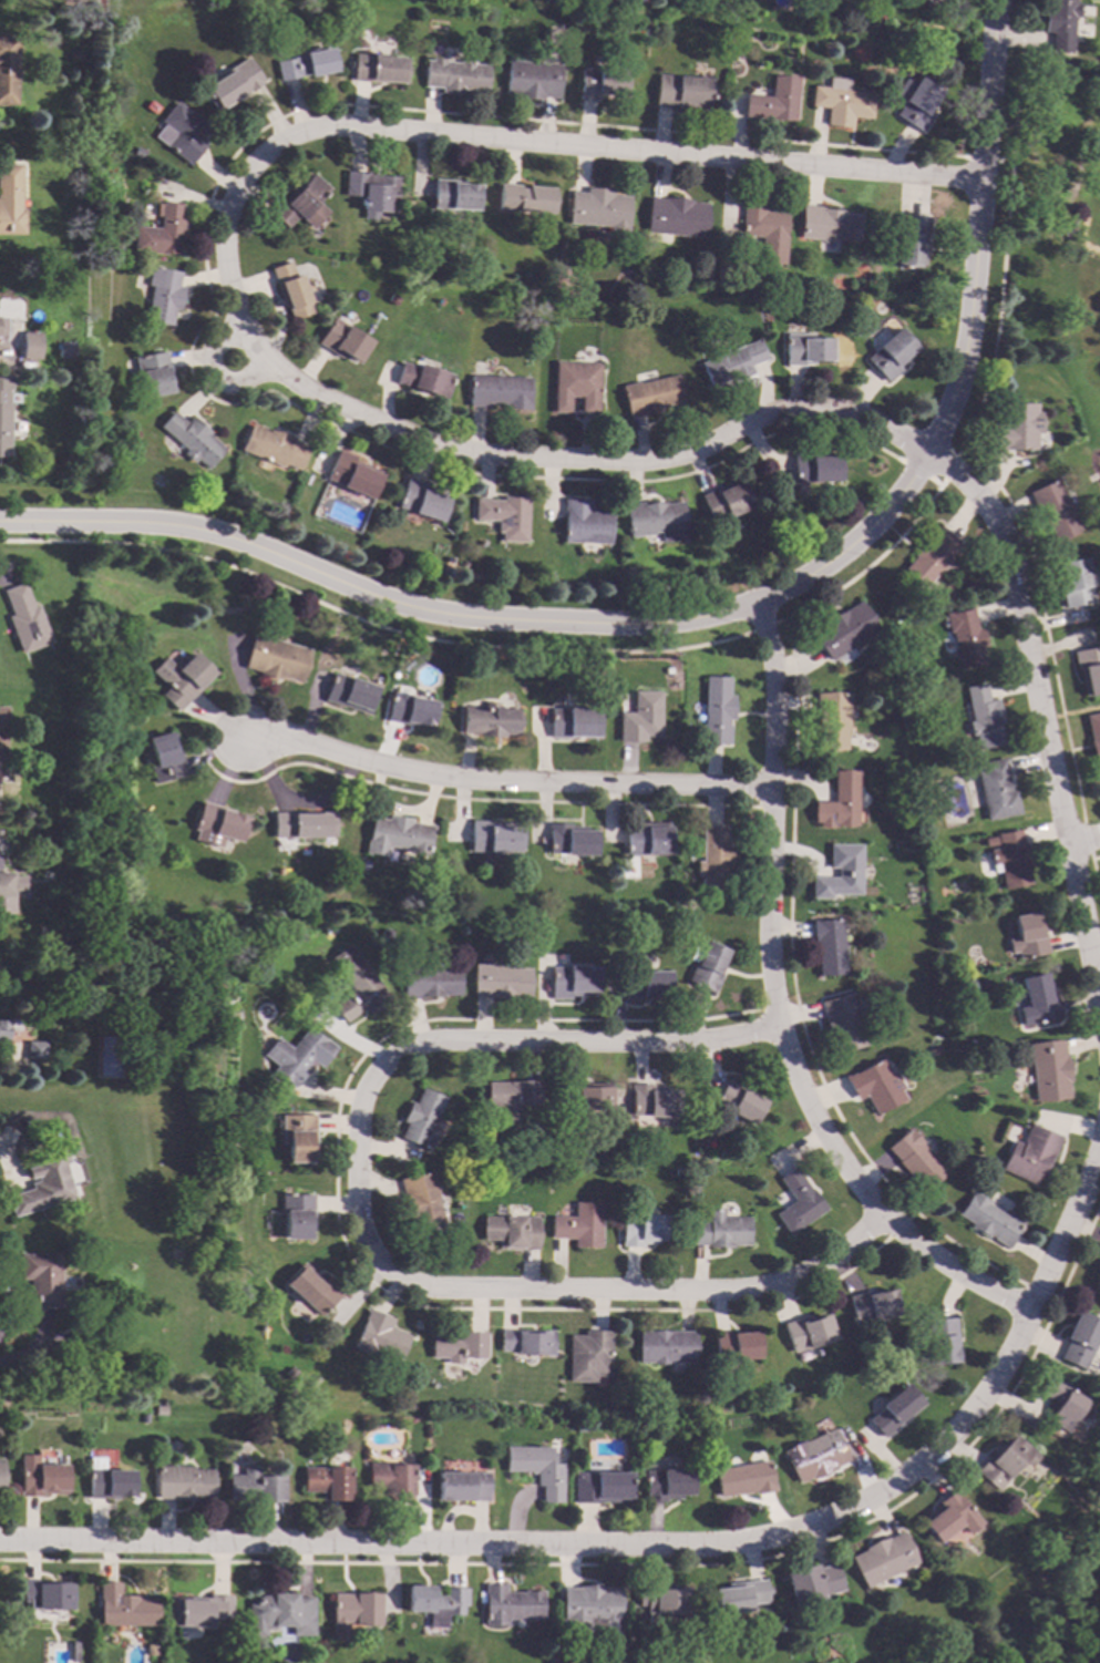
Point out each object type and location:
building: (929, 2)
building: (1060, 23)
building: (74, 54)
building: (307, 64)
building: (379, 69)
building: (8, 70)
building: (455, 75)
building: (532, 80)
building: (600, 83)
building: (233, 84)
building: (682, 93)
building: (773, 101)
building: (841, 102)
building: (915, 102)
building: (152, 107)
building: (183, 133)
building: (126, 150)
building: (138, 153)
building: (370, 189)
building: (454, 195)
building: (525, 198)
building: (10, 199)
building: (301, 204)
building: (598, 208)
building: (675, 217)
building: (827, 224)
building: (763, 230)
building: (162, 233)
building: (912, 240)
road: (230, 249)
building: (291, 290)
building: (163, 296)
building: (1, 327)
building: (342, 340)
building: (27, 348)
building: (64, 350)
building: (804, 350)
building: (890, 355)
building: (730, 363)
building: (154, 373)
building: (423, 379)
building: (574, 388)
building: (497, 391)
building: (649, 394)
building: (4, 412)
building: (1015, 428)
building: (192, 439)
building: (273, 448)
building: (813, 468)
building: (351, 475)
building: (421, 501)
building: (723, 502)
building: (1052, 510)
building: (503, 516)
building: (655, 521)
building: (583, 523)
building: (931, 556)
building: (1076, 581)
road: (6, 582)
road: (717, 612)
building: (23, 619)
building: (842, 630)
building: (965, 637)
building: (276, 658)
building: (1089, 669)
building: (184, 679)
building: (349, 694)
building: (408, 710)
building: (715, 710)
building: (983, 717)
building: (639, 718)
road: (1044, 719)
building: (489, 720)
building: (830, 720)
building: (572, 721)
building: (1093, 736)
building: (3, 738)
building: (168, 759)
road: (503, 783)
building: (996, 790)
building: (836, 801)
building: (302, 824)
building: (218, 825)
building: (395, 835)
building: (493, 836)
road: (1084, 838)
building: (645, 839)
building: (568, 841)
building: (711, 859)
building: (1010, 860)
building: (837, 873)
building: (6, 893)
building: (1027, 937)
building: (826, 946)
building: (706, 966)
building: (428, 982)
building: (498, 982)
building: (572, 982)
building: (356, 985)
building: (645, 985)
building: (981, 985)
building: (216, 988)
building: (1037, 1000)
road: (773, 1010)
building: (842, 1022)
building: (2, 1030)
building: (34, 1050)
building: (933, 1050)
building: (298, 1056)
building: (106, 1057)
building: (1048, 1070)
building: (875, 1086)
building: (510, 1095)
building: (584, 1097)
building: (651, 1101)
building: (737, 1101)
building: (419, 1118)
building: (299, 1138)
building: (532, 1142)
building: (1029, 1154)
building: (250, 1156)
building: (914, 1159)
road: (7, 1166)
building: (679, 1172)
building: (43, 1183)
building: (420, 1202)
building: (798, 1202)
building: (298, 1217)
building: (988, 1220)
road: (358, 1224)
building: (579, 1225)
building: (644, 1230)
building: (720, 1230)
building: (511, 1232)
building: (41, 1280)
building: (1097, 1283)
building: (313, 1291)
building: (872, 1306)
building: (808, 1332)
building: (379, 1338)
building: (1080, 1339)
building: (942, 1341)
building: (525, 1342)
building: (455, 1346)
building: (734, 1346)
building: (666, 1347)
road: (32, 1351)
building: (588, 1355)
building: (289, 1374)
building: (315, 1380)
building: (1061, 1403)
building: (895, 1409)
building: (162, 1410)
building: (145, 1418)
building: (580, 1428)
building: (814, 1456)
building: (1004, 1461)
building: (537, 1469)
building: (1, 1477)
building: (41, 1478)
building: (389, 1479)
building: (743, 1479)
building: (109, 1481)
building: (185, 1482)
building: (327, 1482)
building: (666, 1485)
building: (461, 1486)
building: (256, 1487)
building: (600, 1488)
building: (948, 1517)
road: (655, 1549)
building: (1051, 1554)
building: (882, 1560)
building: (812, 1581)
building: (45, 1595)
building: (738, 1597)
building: (434, 1604)
building: (510, 1605)
building: (661, 1605)
building: (123, 1608)
building: (199, 1611)
building: (351, 1612)
building: (590, 1612)
building: (279, 1614)
park: (1051, 1626)
building: (150, 1650)
building: (74, 1652)

